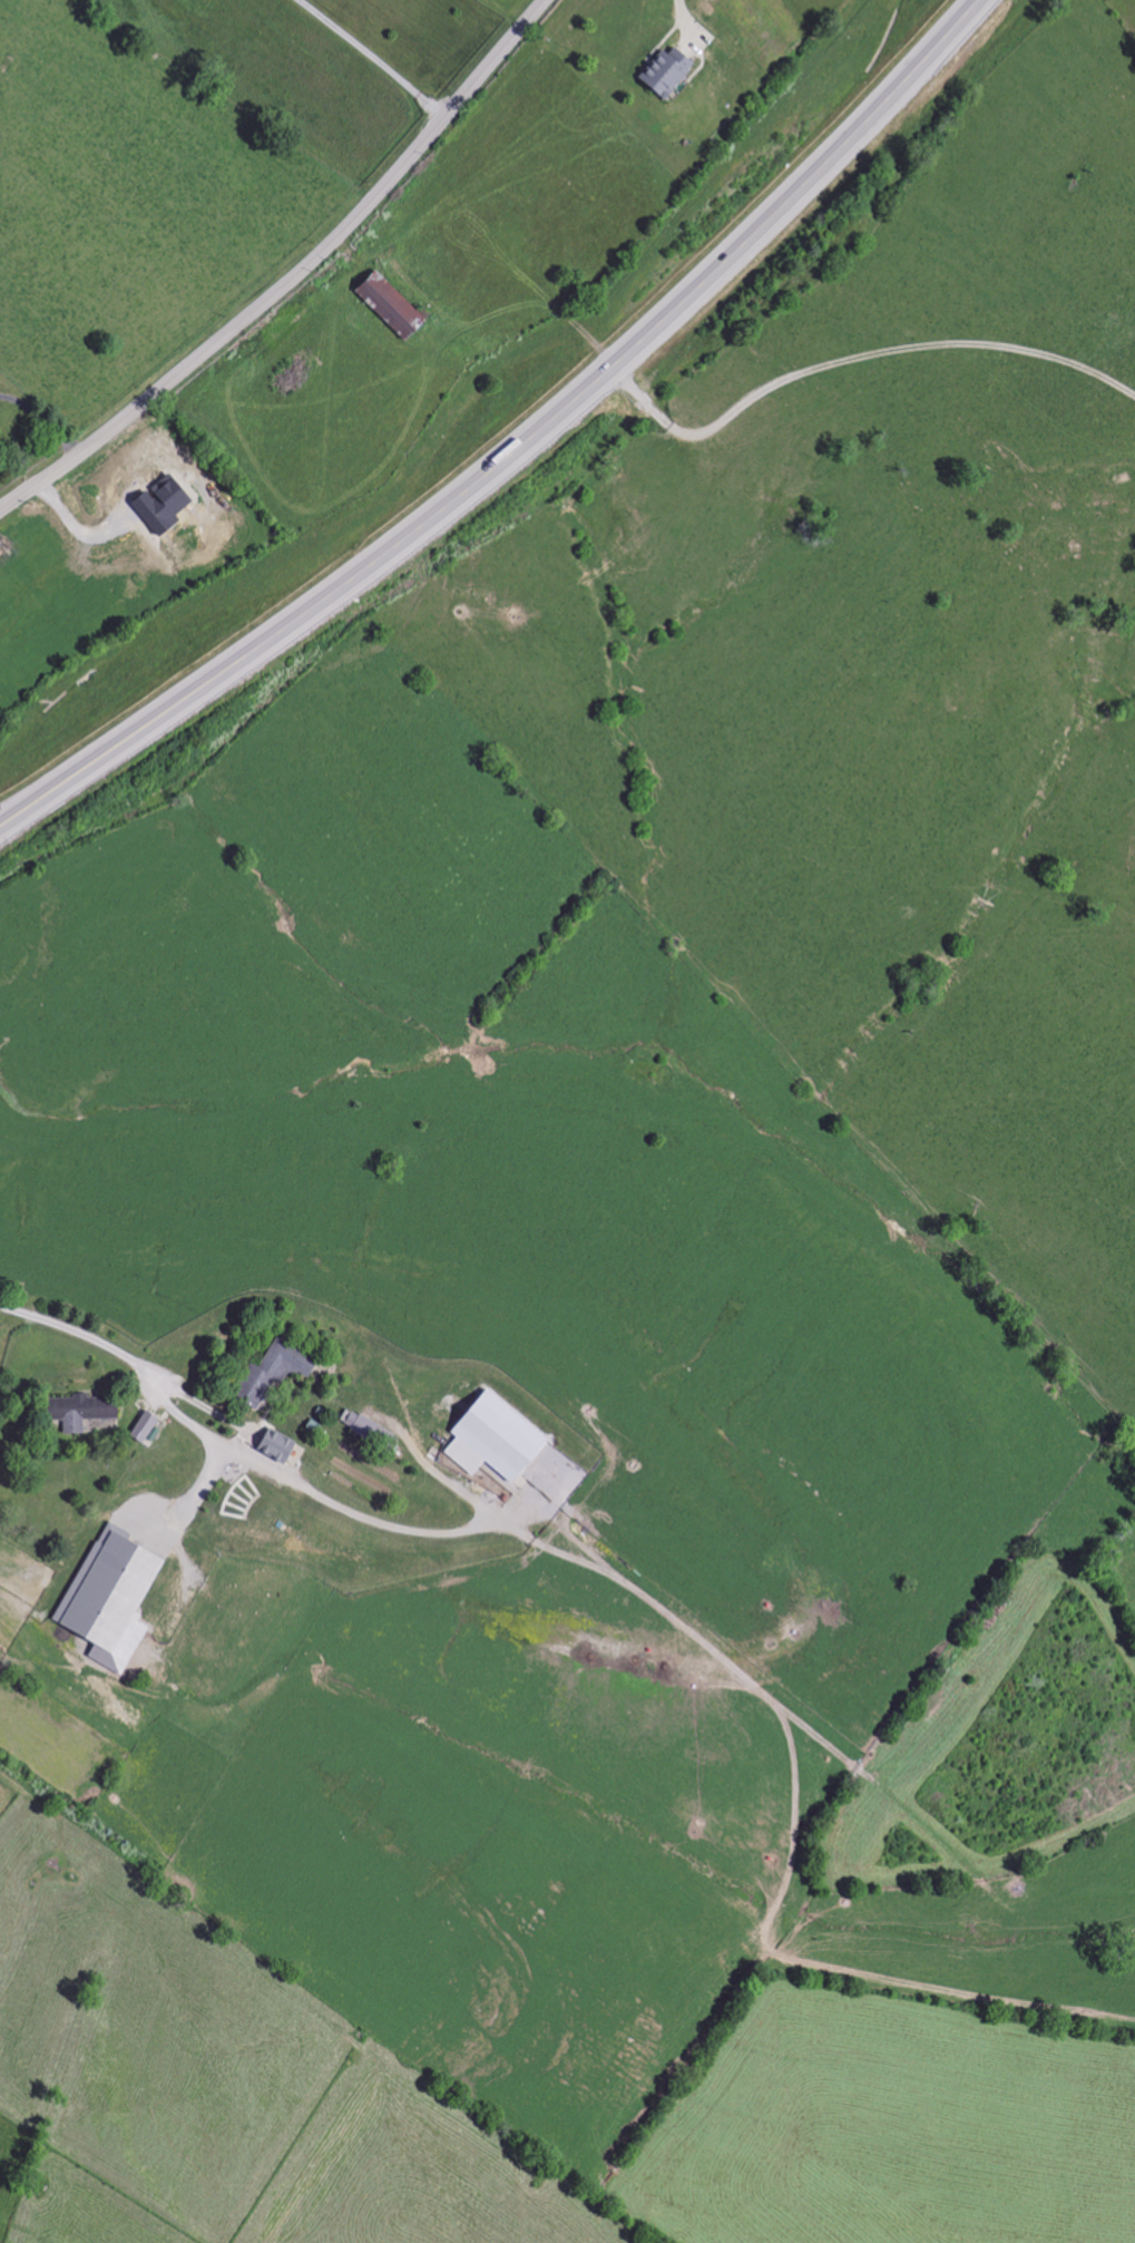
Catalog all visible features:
road: (681, 19)
road: (368, 59)
building: (662, 75)
road: (294, 279)
building: (387, 304)
road: (855, 359)
road: (43, 420)
road: (519, 448)
road: (129, 1361)
building: (267, 1374)
building: (77, 1412)
building: (141, 1428)
building: (368, 1432)
building: (489, 1440)
building: (274, 1446)
road: (200, 1481)
road: (344, 1510)
building: (107, 1599)

